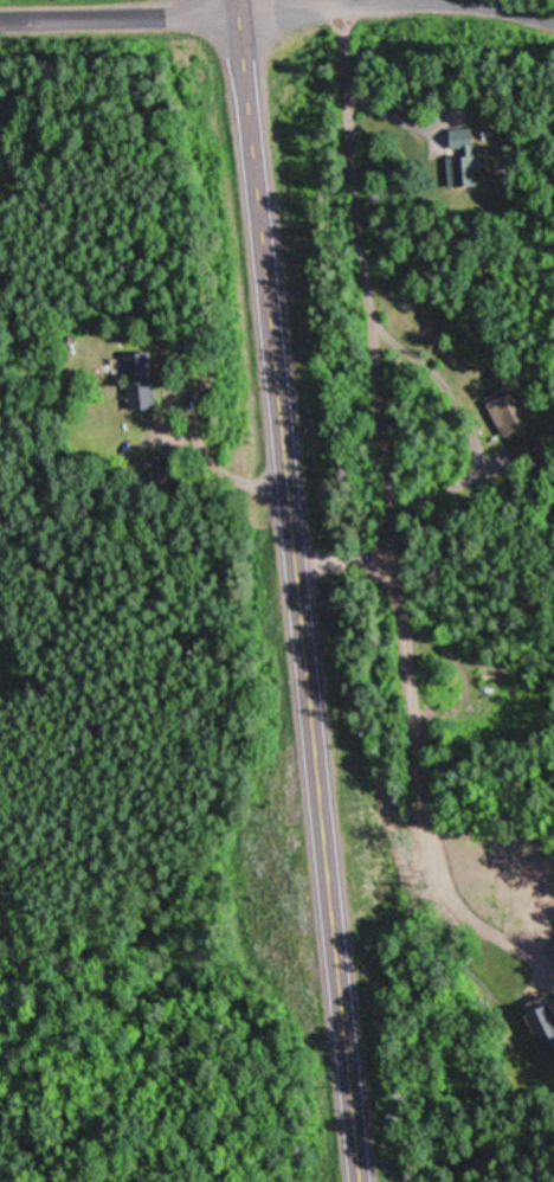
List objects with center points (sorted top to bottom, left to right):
road: (399, 9)
road: (120, 17)
building: (464, 155)
building: (141, 379)
building: (511, 411)
building: (104, 455)
road: (299, 591)
building: (545, 1024)

